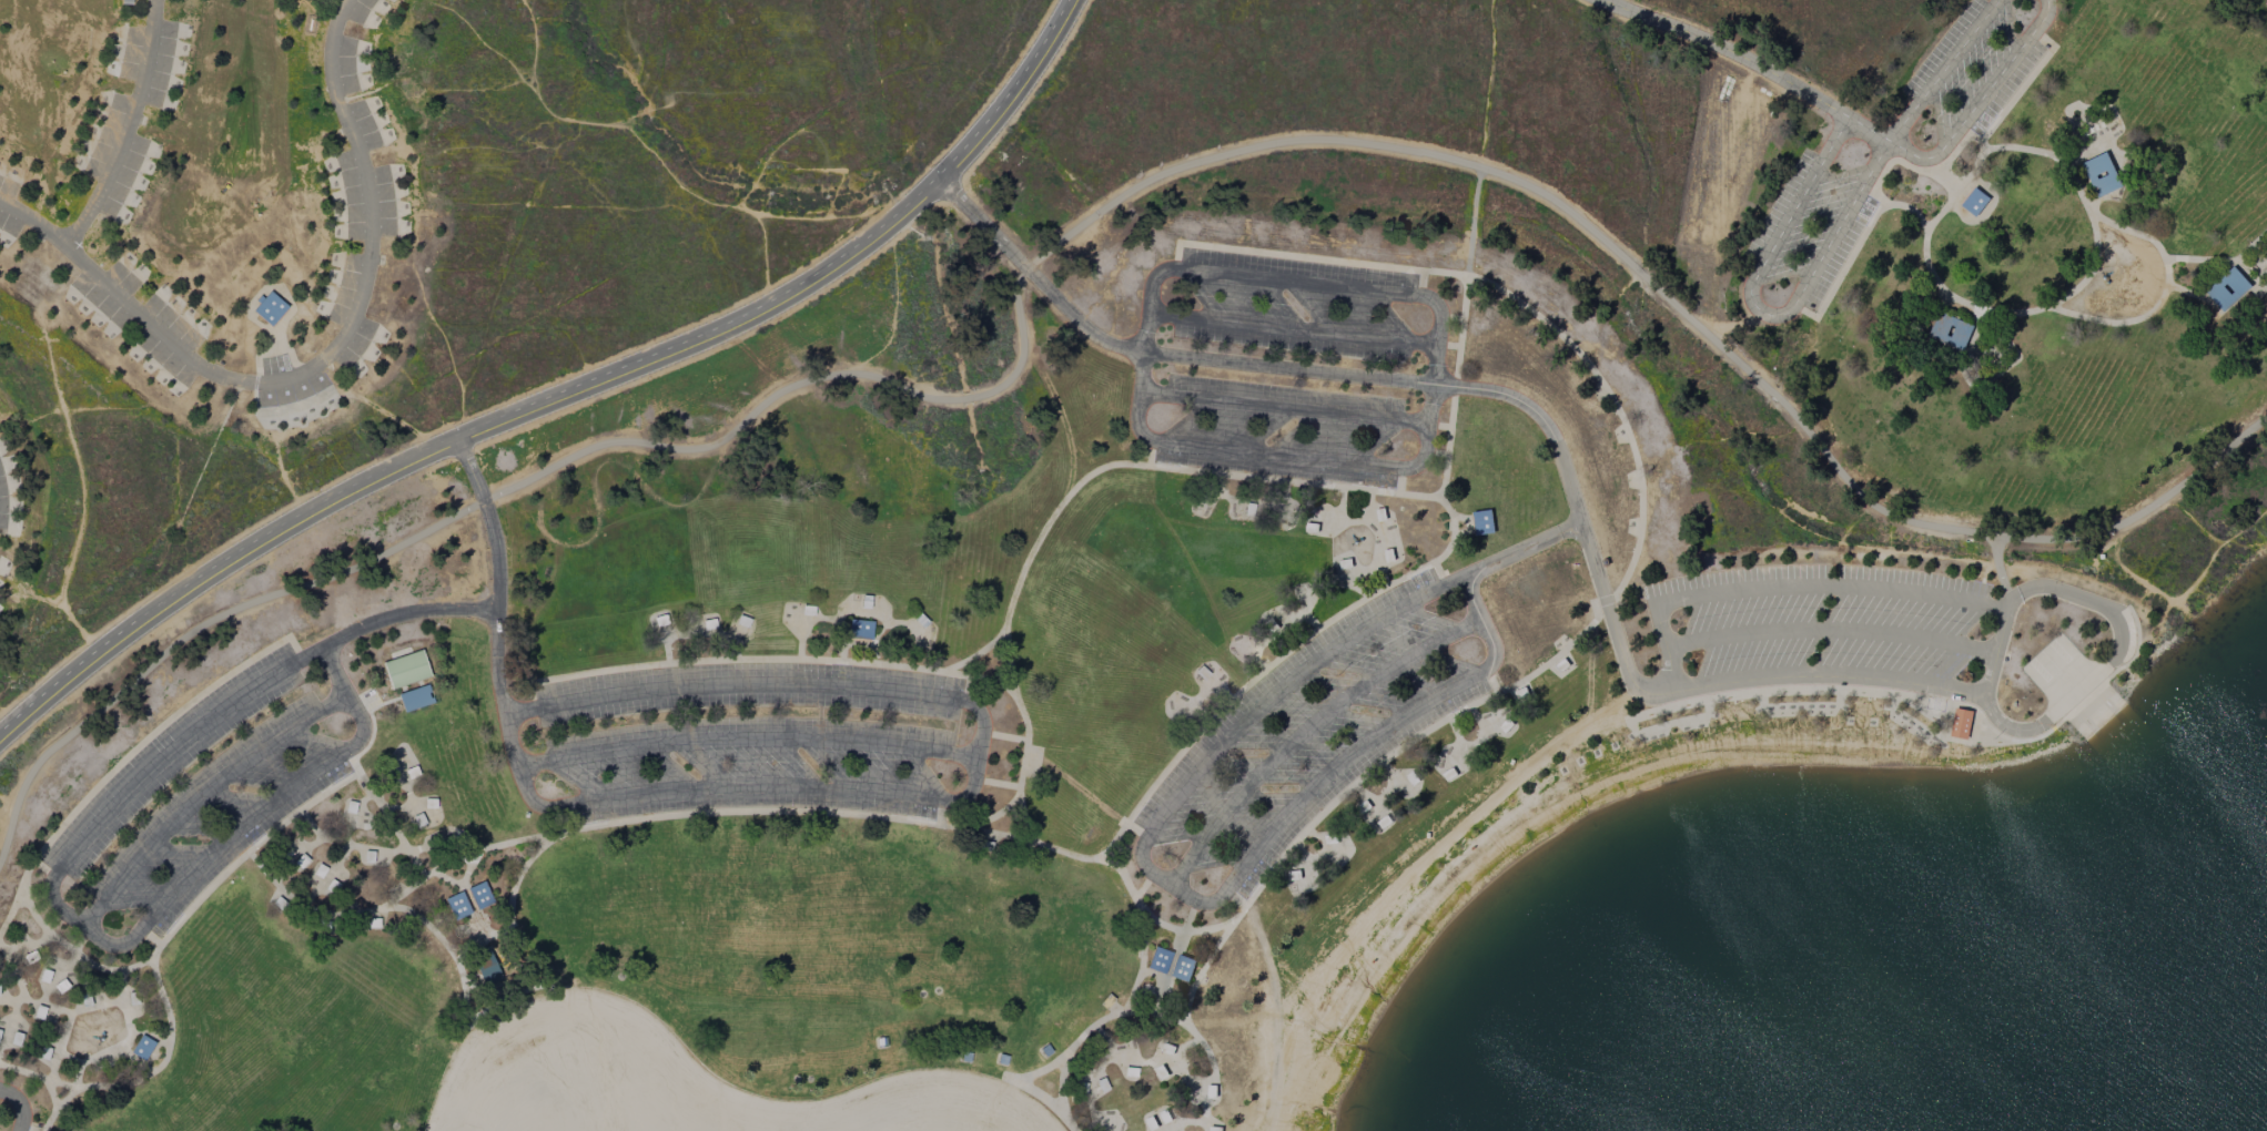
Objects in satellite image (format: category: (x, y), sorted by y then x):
road: (1728, 52)
road: (1943, 70)
parking lot: (1975, 72)
road: (1982, 102)
road: (122, 125)
road: (1870, 130)
building: (2099, 174)
building: (1973, 202)
parking lot: (1816, 220)
road: (1077, 227)
building: (2228, 289)
road: (2055, 302)
road: (1763, 312)
road: (1292, 330)
building: (1950, 330)
road: (316, 360)
parking lot: (1286, 366)
road: (1433, 385)
road: (564, 390)
road: (1284, 406)
road: (1559, 442)
road: (1448, 512)
building: (1481, 522)
road: (1018, 579)
road: (1881, 592)
road: (499, 621)
parking lot: (1815, 626)
road: (352, 629)
building: (859, 629)
road: (1854, 632)
building: (405, 669)
road: (1990, 673)
road: (2103, 681)
building: (415, 696)
road: (985, 719)
building: (1960, 723)
parking lot: (1306, 733)
road: (1310, 733)
parking lot: (767, 738)
road: (779, 784)
parking lot: (191, 797)
road: (1145, 844)
road: (1065, 854)
road: (209, 855)
building: (479, 894)
road: (50, 898)
building: (456, 905)
building: (1170, 964)
building: (488, 967)
building: (141, 1047)
building: (1092, 1087)
road: (21, 1104)
parking lot: (23, 1121)

